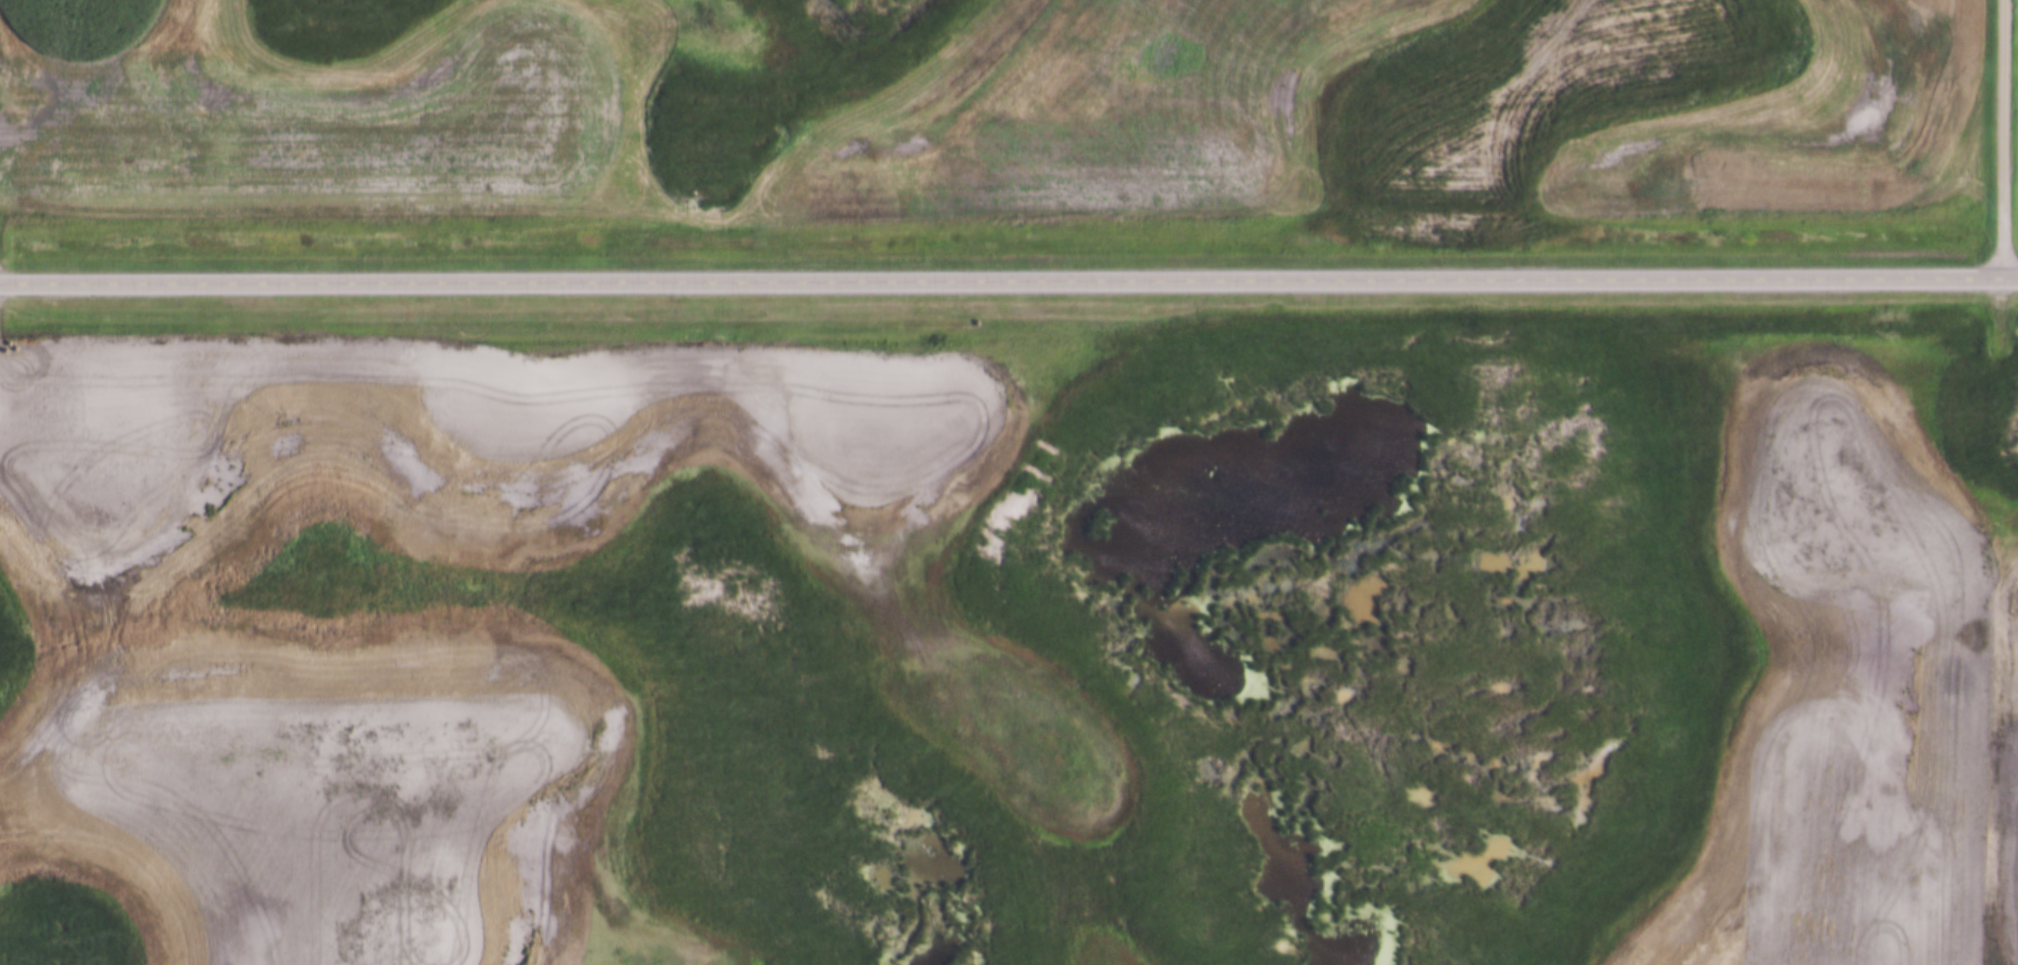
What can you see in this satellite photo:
road: (2006, 137)
road: (1008, 276)

